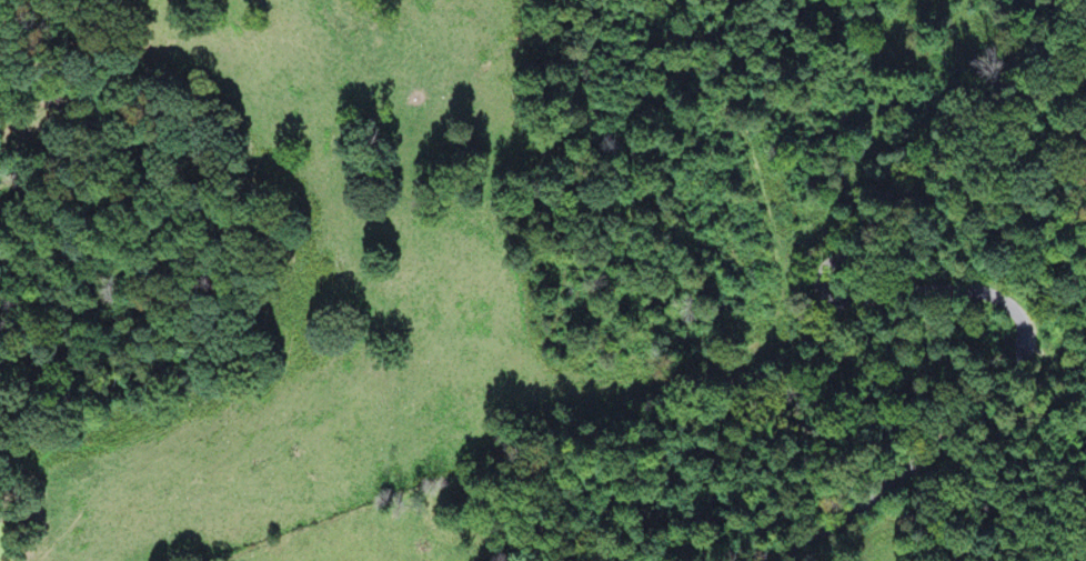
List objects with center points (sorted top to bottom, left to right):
road: (905, 294)

